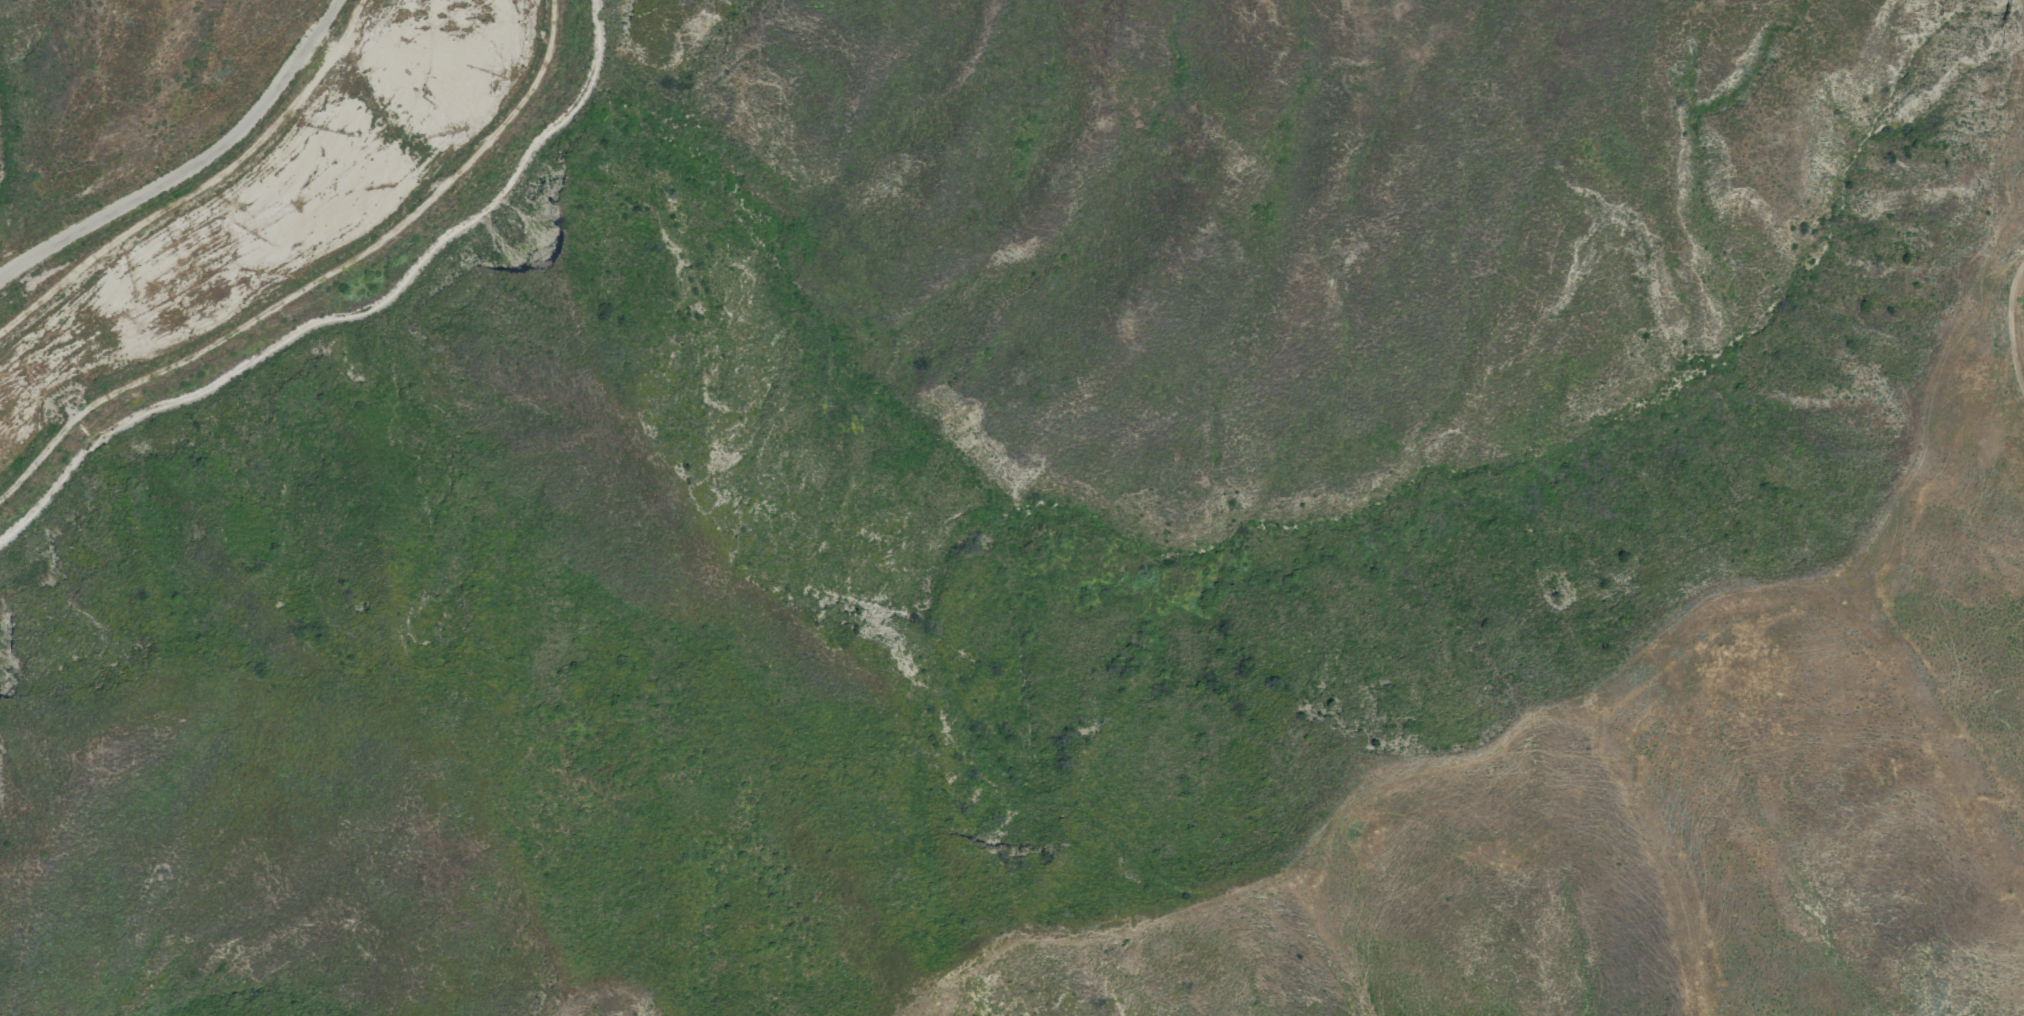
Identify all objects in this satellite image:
road: (196, 170)
road: (2010, 328)

